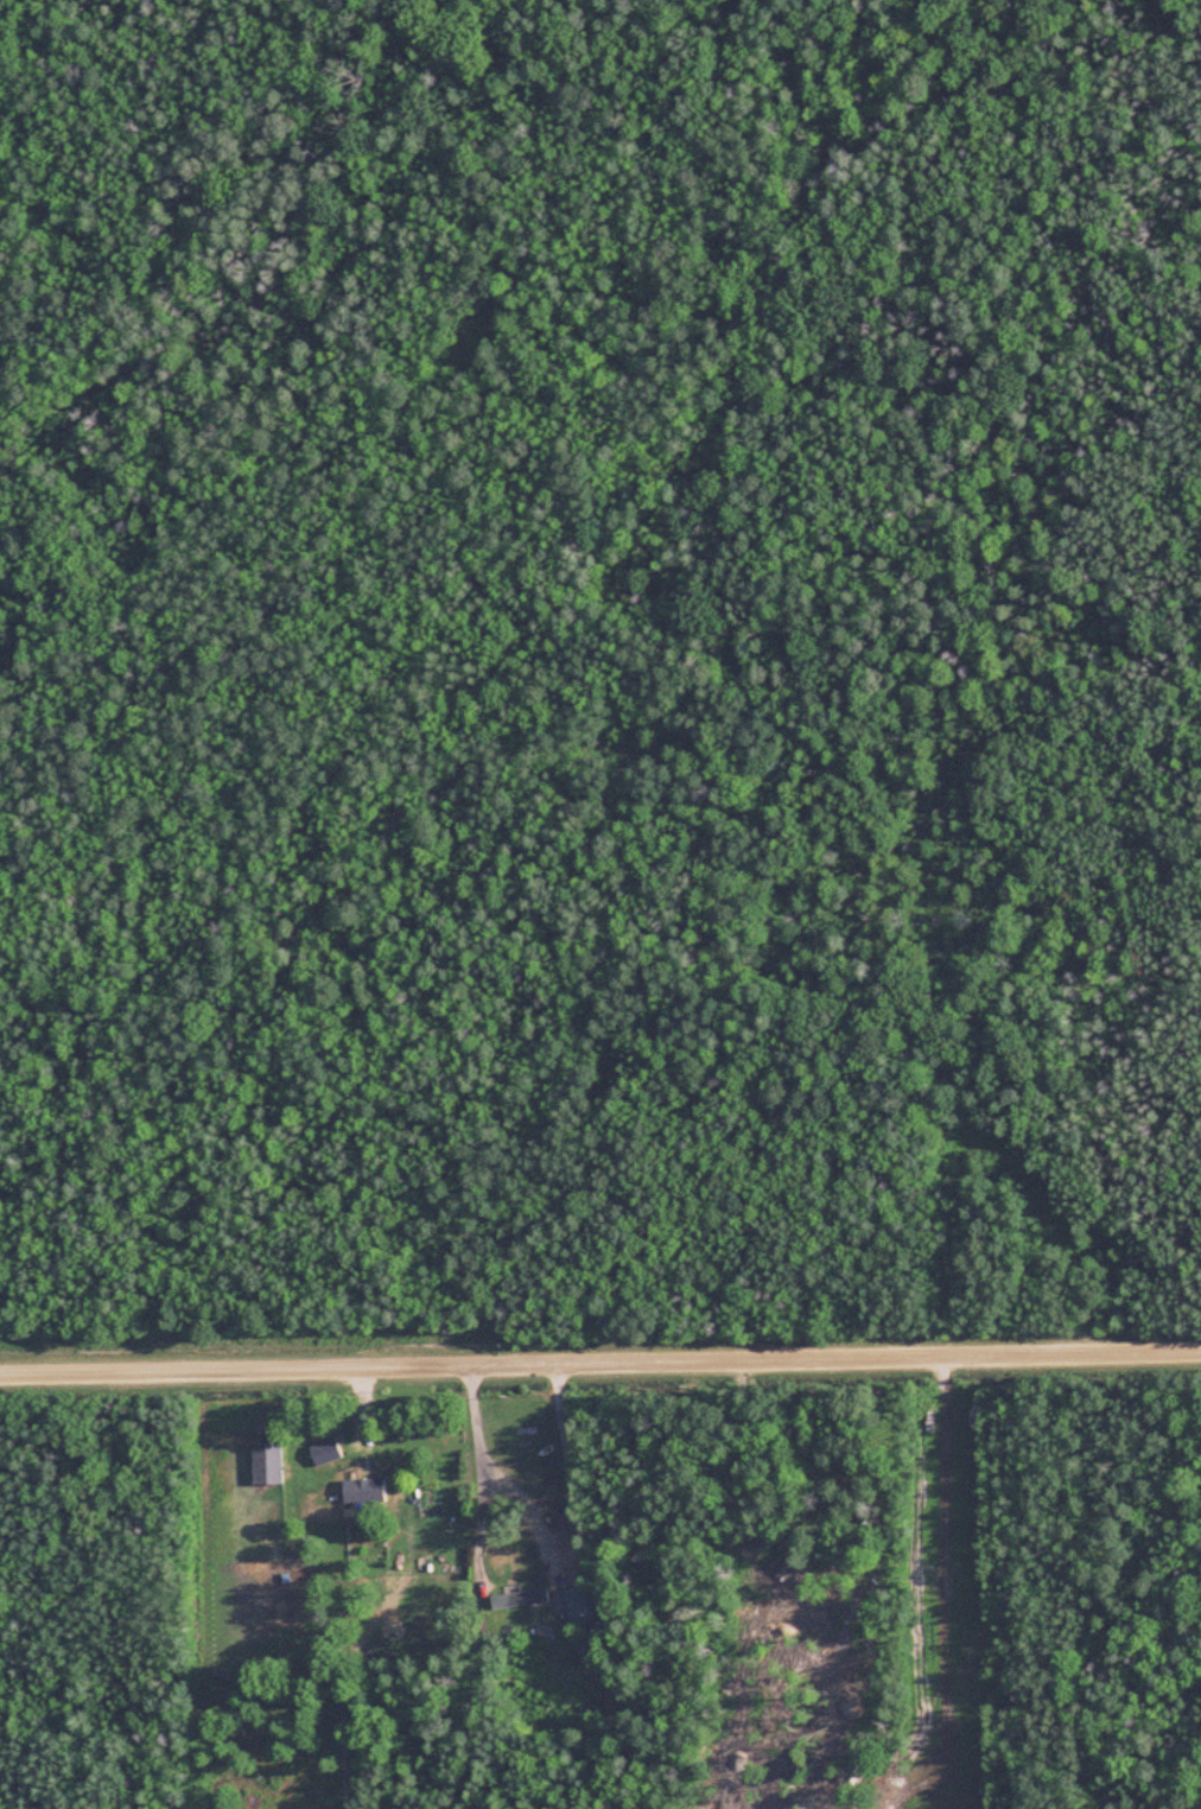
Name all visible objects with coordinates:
road: (599, 1363)
building: (324, 1452)
building: (266, 1462)
road: (477, 1472)
building: (546, 1485)
building: (363, 1491)
building: (517, 1599)
building: (577, 1605)

